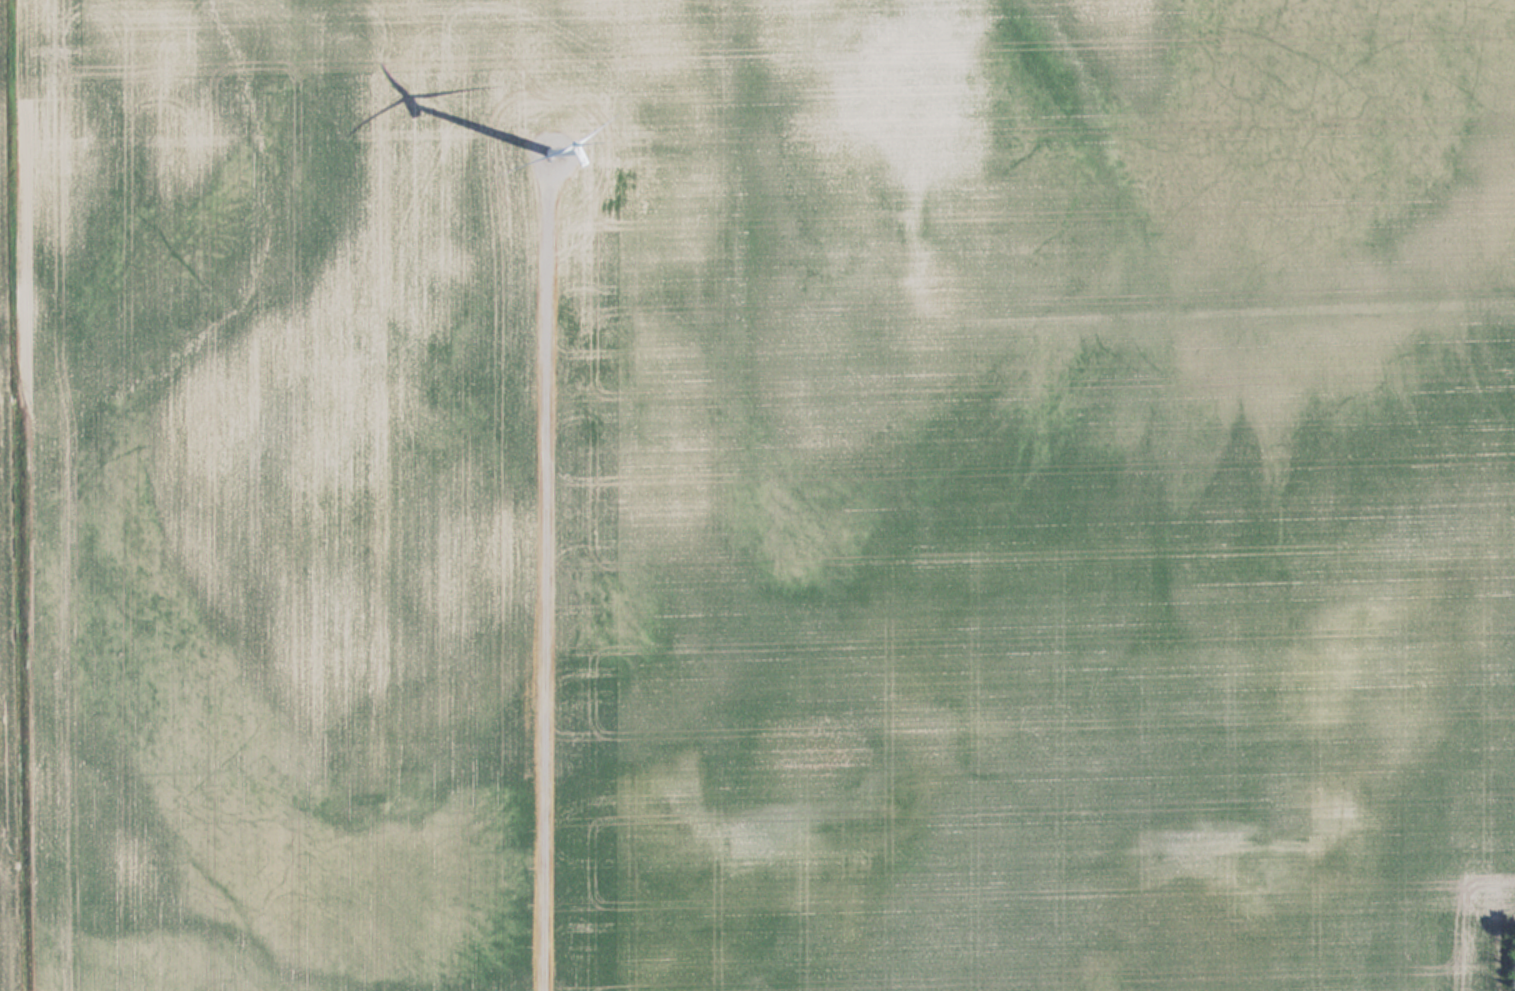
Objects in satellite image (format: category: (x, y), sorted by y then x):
building: (915, 23)
building: (870, 88)
wind turbine: (549, 151)
road: (549, 580)

